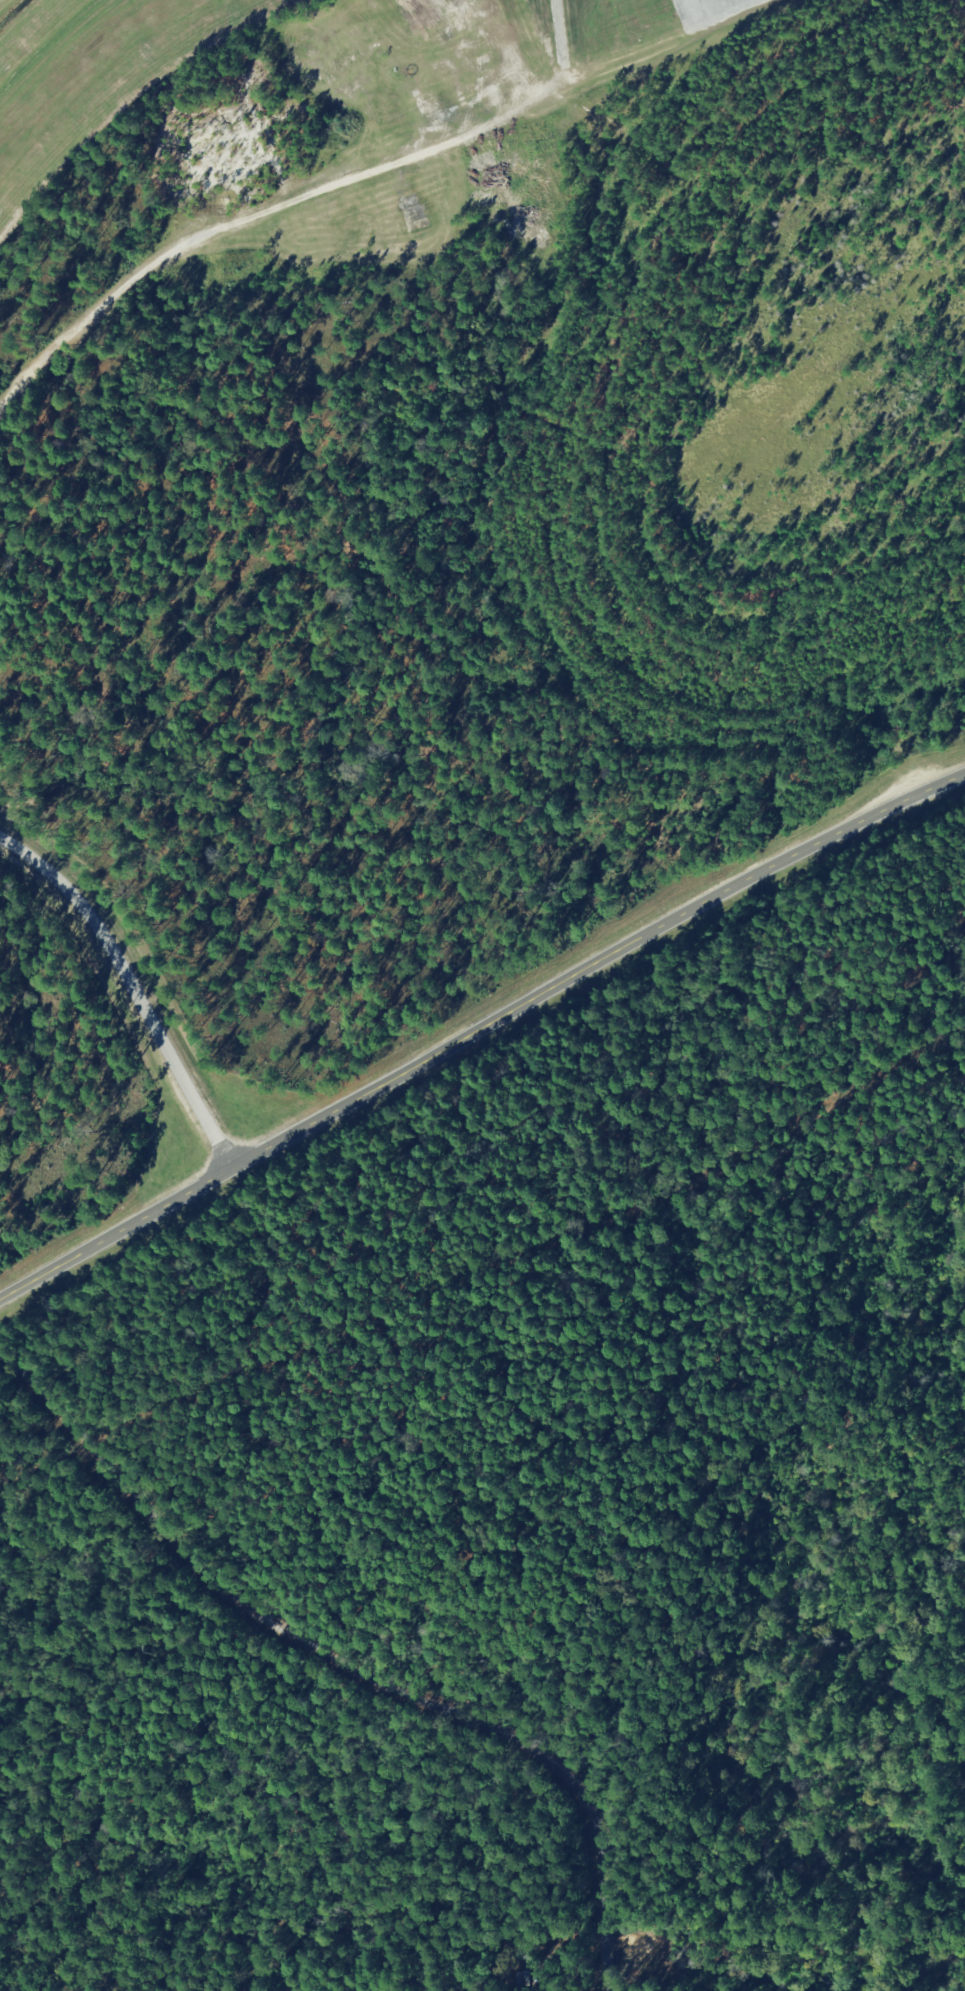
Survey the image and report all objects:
road: (130, 989)
road: (479, 1028)
road: (346, 1667)

